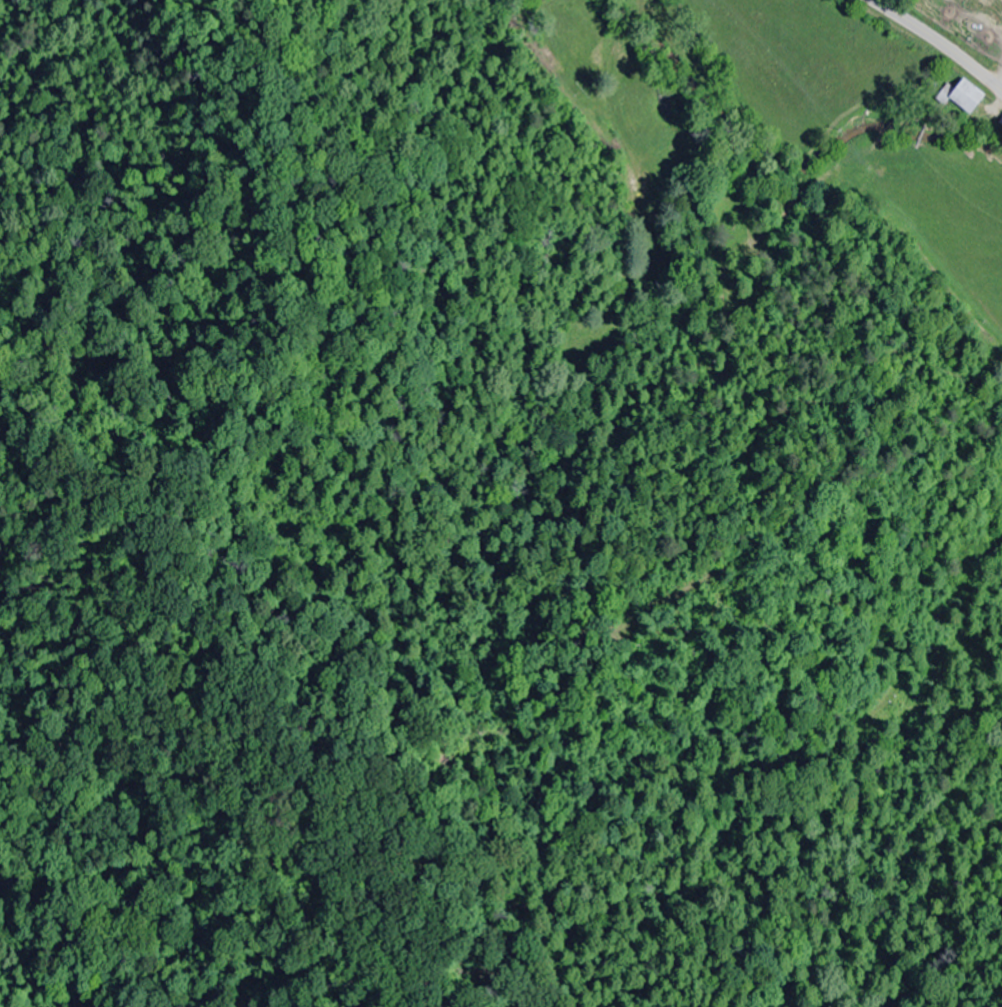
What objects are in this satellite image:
road: (632, 16)
road: (934, 49)
building: (967, 96)
building: (677, 156)

